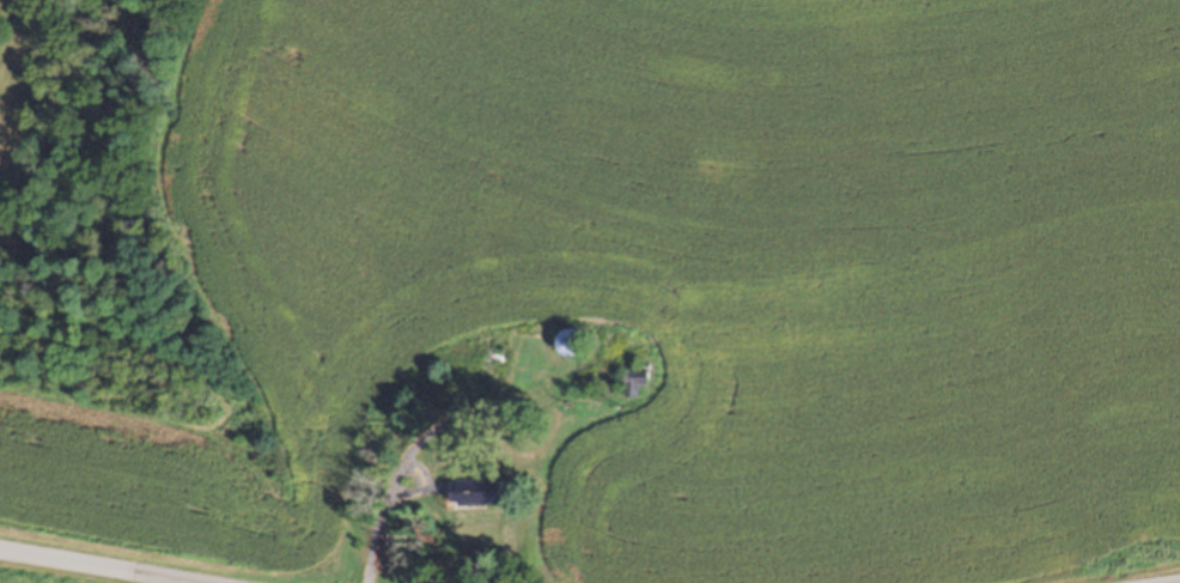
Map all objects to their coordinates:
building: (570, 344)
building: (635, 383)
building: (476, 493)
road: (201, 549)

